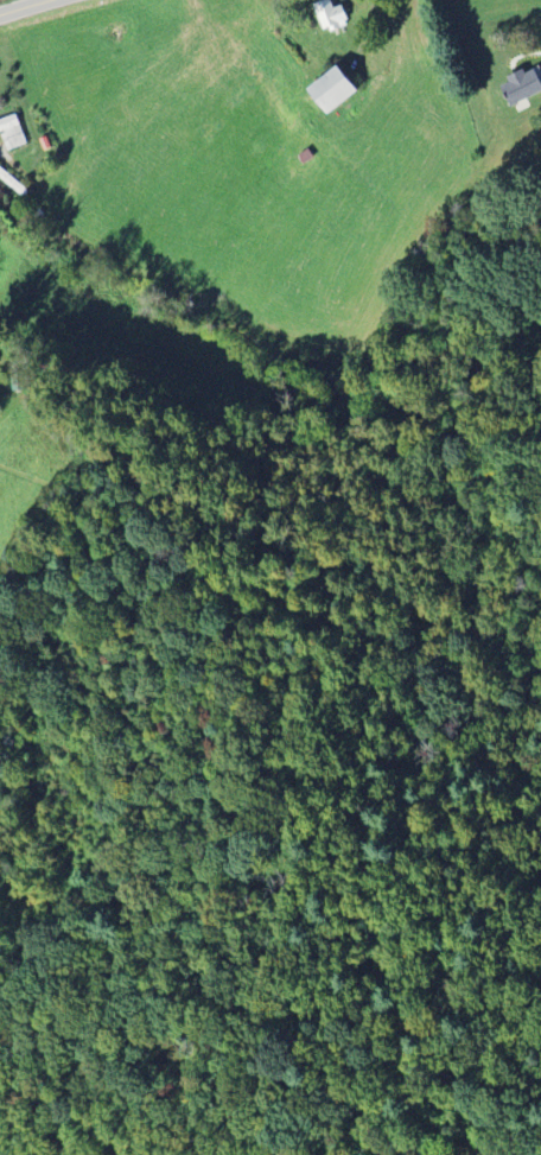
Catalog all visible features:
road: (21, 6)
building: (330, 15)
road: (365, 28)
building: (521, 85)
building: (332, 89)
building: (12, 132)

